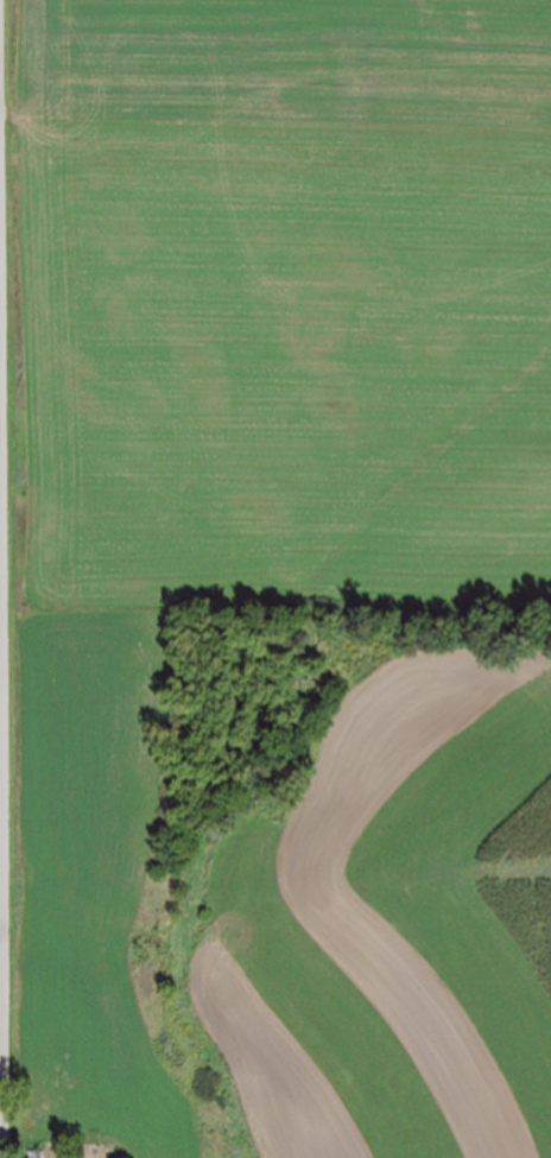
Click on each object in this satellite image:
road: (0, 89)
road: (5, 578)
road: (90, 1157)

